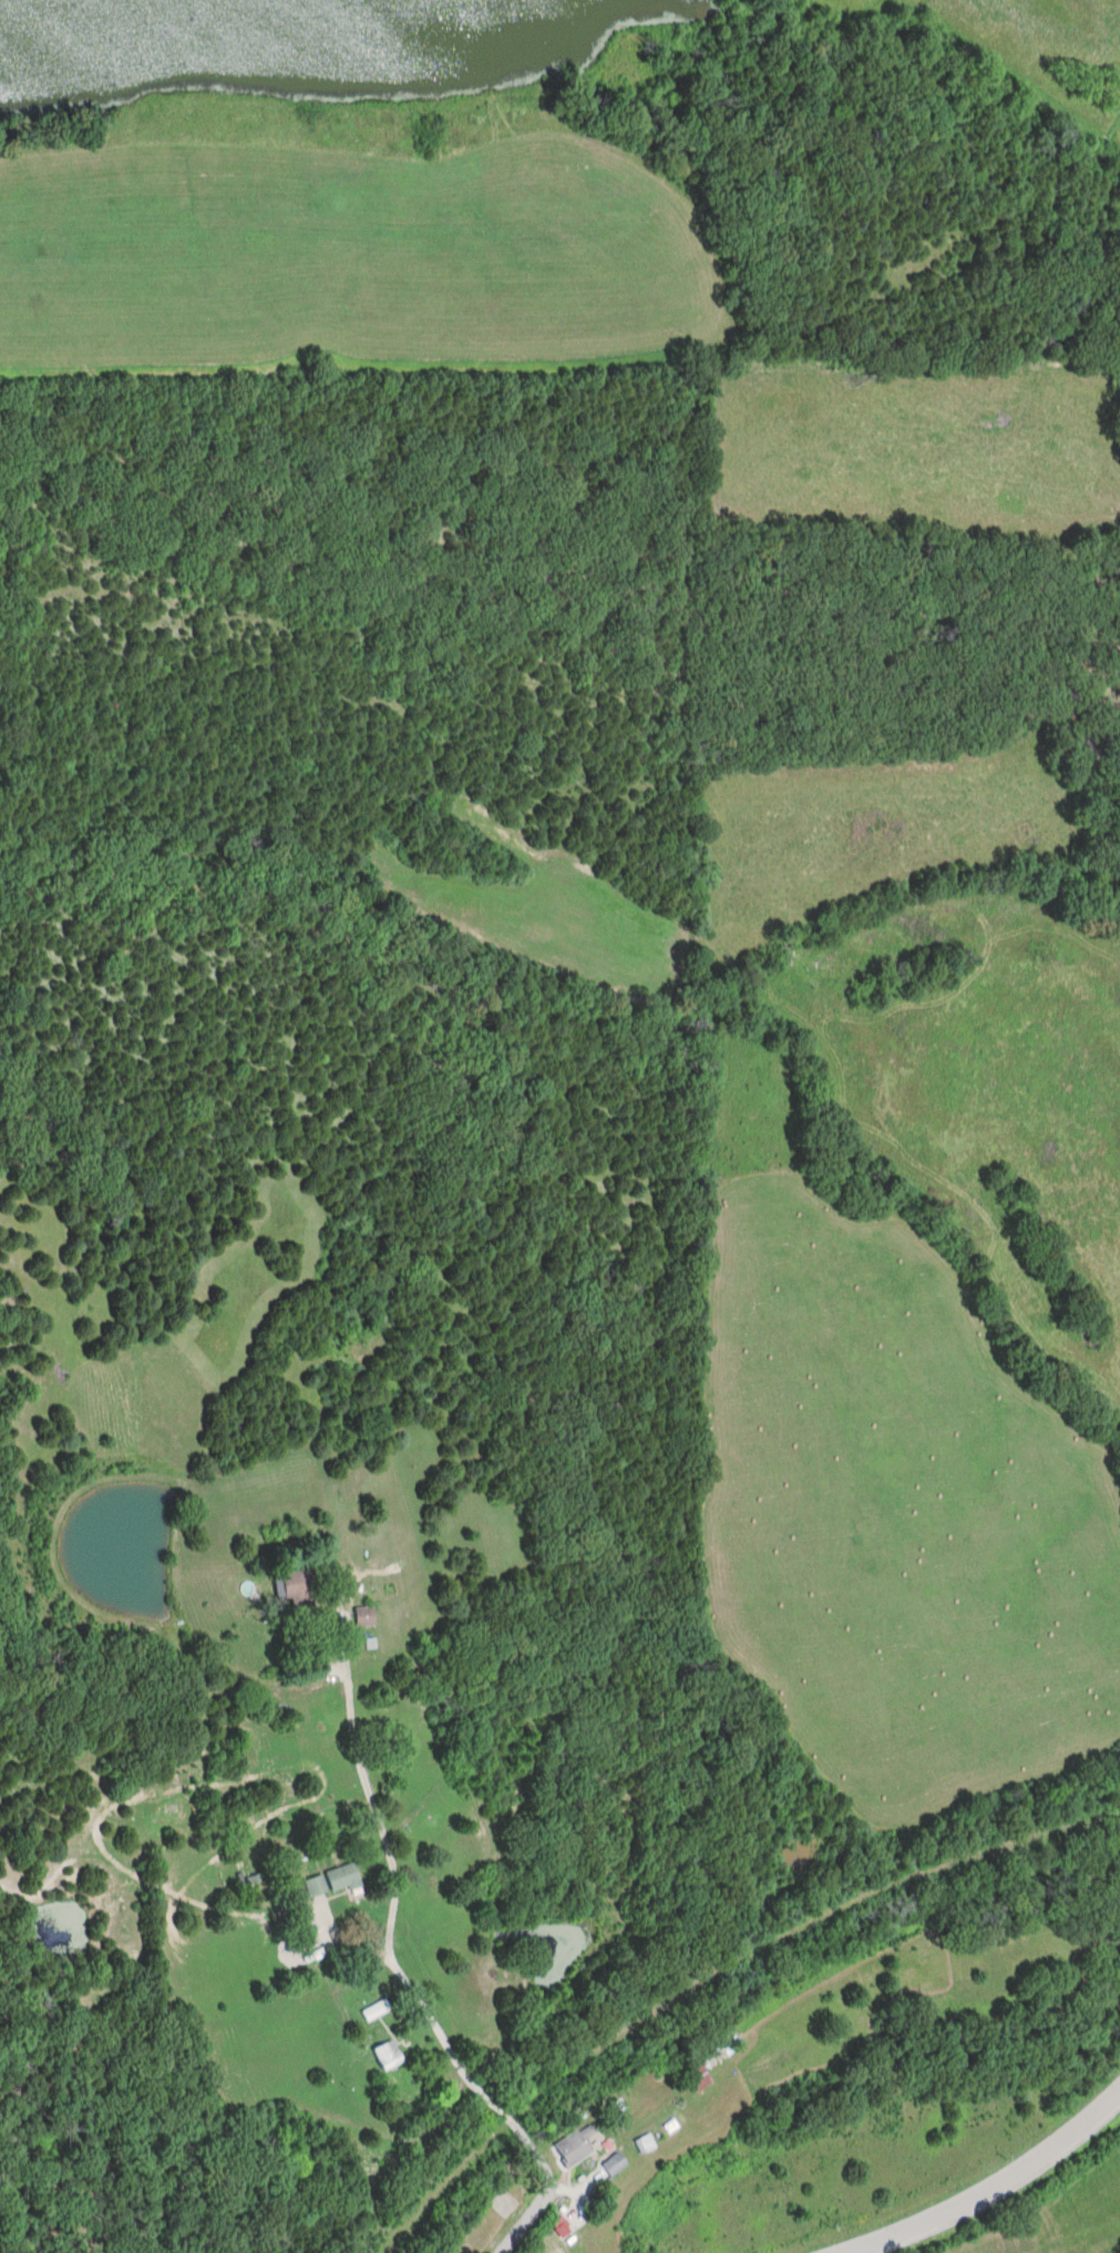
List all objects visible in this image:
road: (298, 1564)
building: (297, 1592)
building: (364, 1617)
building: (342, 1879)
building: (316, 1886)
railway: (717, 1975)
building: (376, 2012)
building: (388, 2056)
building: (698, 2077)
building: (645, 2144)
building: (572, 2149)
road: (528, 2151)
building: (615, 2165)
road: (991, 2189)
road: (544, 2201)

